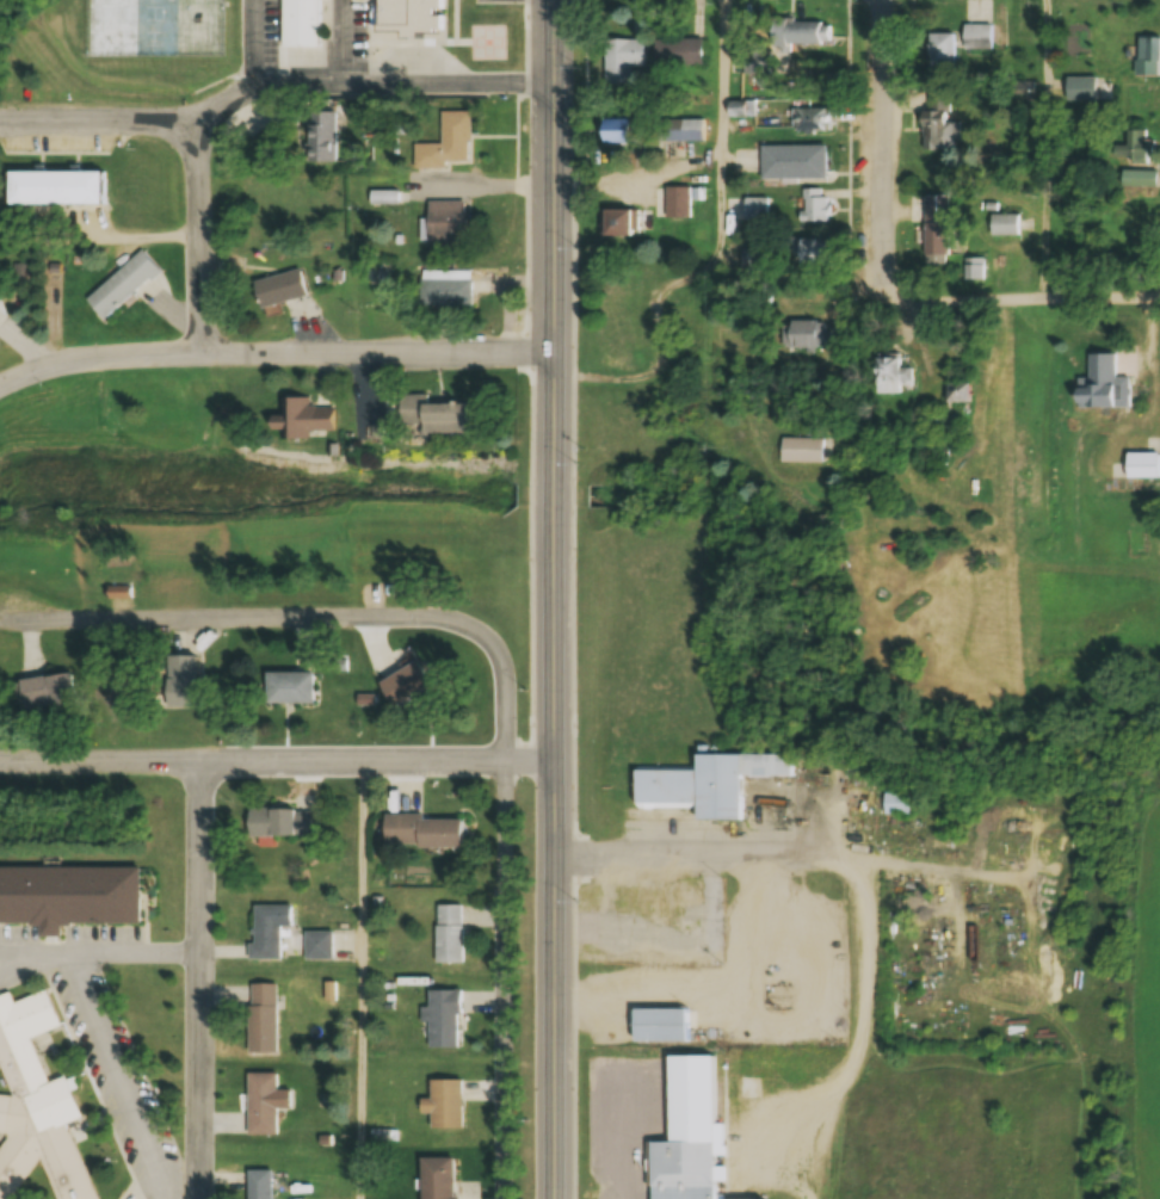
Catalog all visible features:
building: (411, 11)
building: (300, 23)
building: (801, 35)
building: (977, 38)
helipad: (489, 42)
building: (940, 52)
building: (678, 55)
building: (1148, 55)
building: (622, 61)
building: (758, 64)
road: (371, 79)
road: (98, 116)
building: (809, 119)
building: (691, 130)
building: (613, 132)
building: (939, 134)
building: (320, 136)
building: (446, 143)
road: (1047, 143)
road: (883, 146)
building: (1143, 146)
building: (792, 163)
building: (51, 188)
building: (678, 203)
building: (814, 205)
building: (445, 223)
building: (618, 223)
building: (1004, 224)
building: (936, 227)
road: (200, 231)
street lamp: (580, 247)
building: (810, 253)
road: (714, 255)
building: (974, 270)
building: (127, 286)
road: (1022, 288)
building: (277, 289)
building: (444, 289)
building: (801, 336)
road: (274, 345)
building: (889, 375)
building: (1102, 385)
building: (956, 398)
building: (432, 416)
building: (302, 421)
building: (798, 450)
street lamp: (582, 462)
building: (1139, 466)
road: (556, 599)
road: (254, 608)
building: (183, 674)
road: (507, 681)
building: (405, 685)
building: (290, 687)
street lamp: (527, 690)
building: (47, 692)
road: (277, 749)
building: (707, 784)
building: (895, 804)
building: (282, 823)
building: (422, 832)
road: (864, 883)
building: (68, 897)
street lamp: (580, 901)
building: (269, 929)
building: (449, 934)
road: (101, 954)
road: (366, 974)
road: (202, 975)
building: (261, 1019)
building: (443, 1019)
building: (660, 1026)
road: (124, 1076)
building: (263, 1105)
building: (444, 1105)
building: (35, 1108)
street lamp: (524, 1121)
building: (689, 1131)
building: (437, 1178)
building: (259, 1183)
building: (747, 1192)

